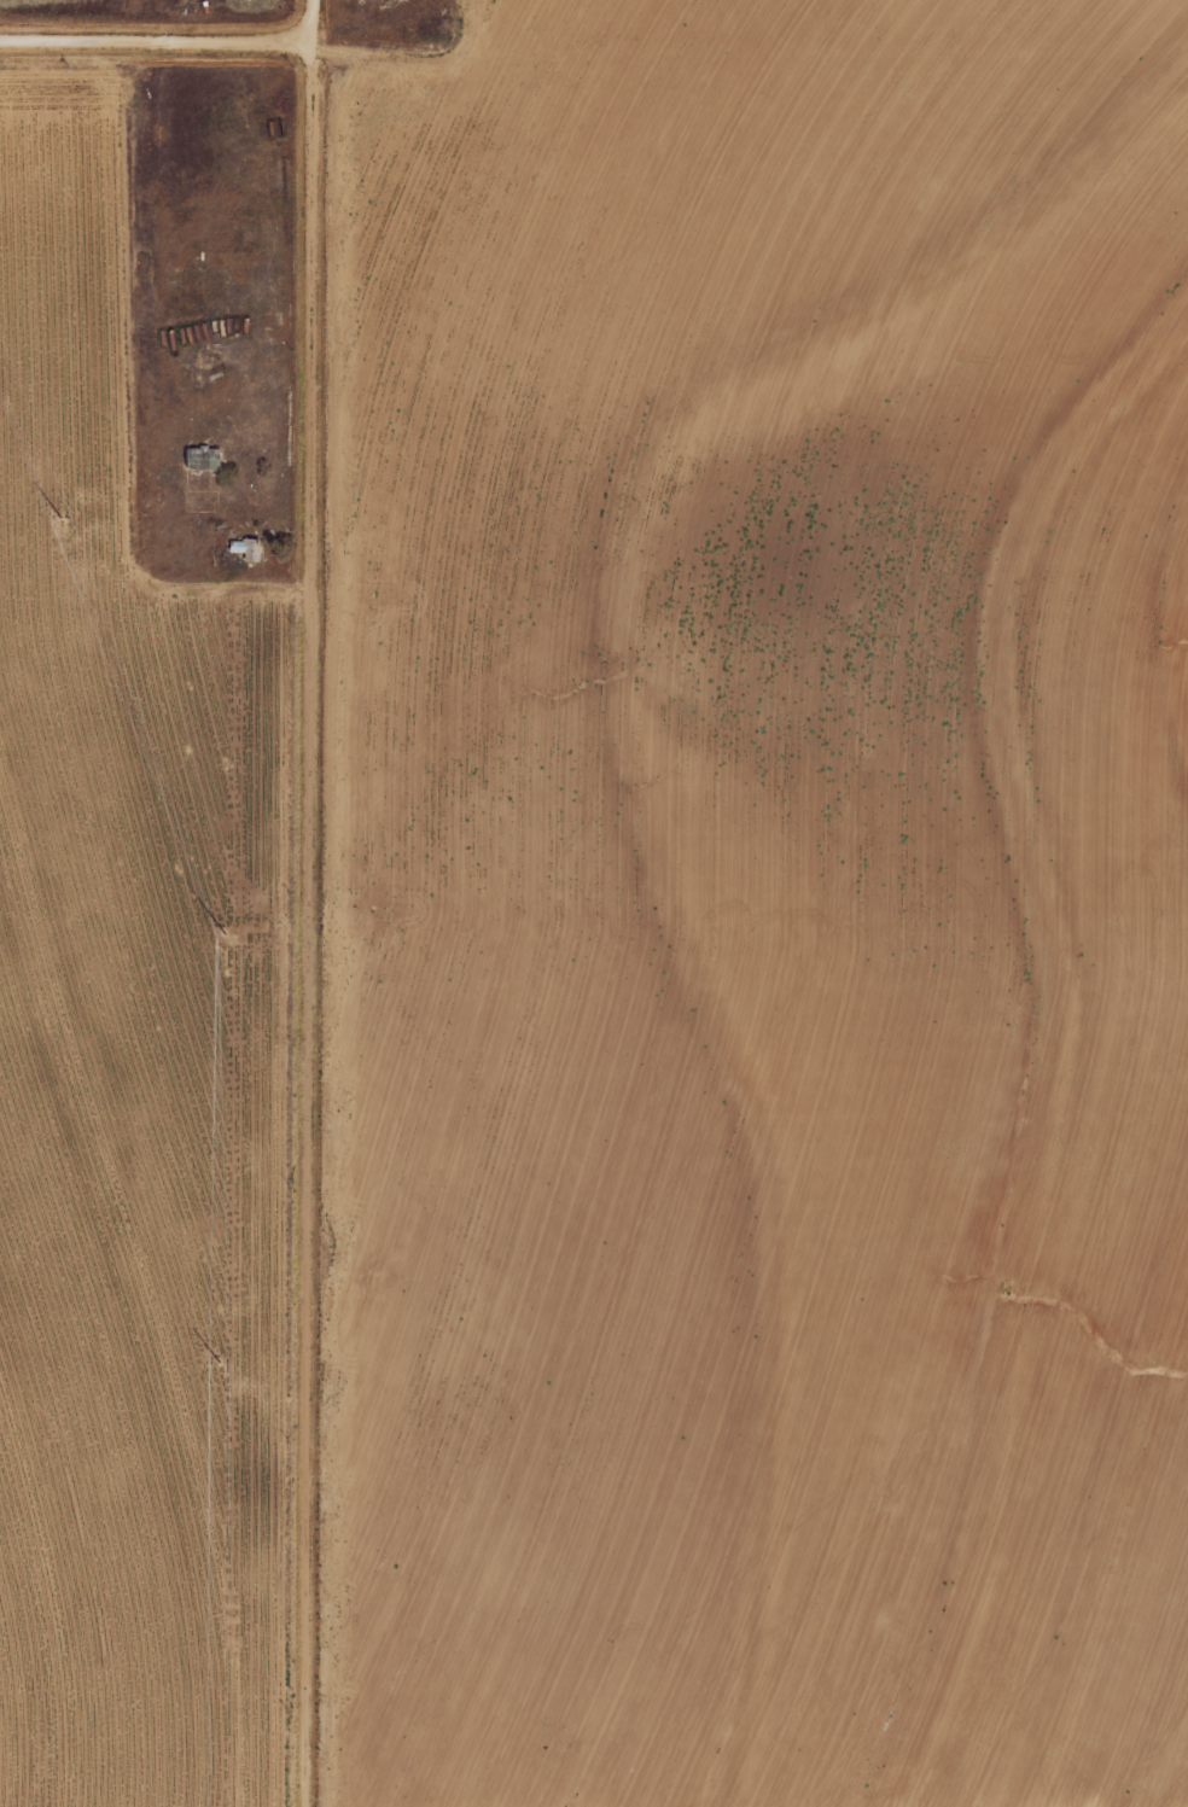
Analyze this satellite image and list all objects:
road: (148, 42)
power tower: (46, 523)
road: (298, 903)
power tower: (210, 931)
power tower: (205, 1364)

